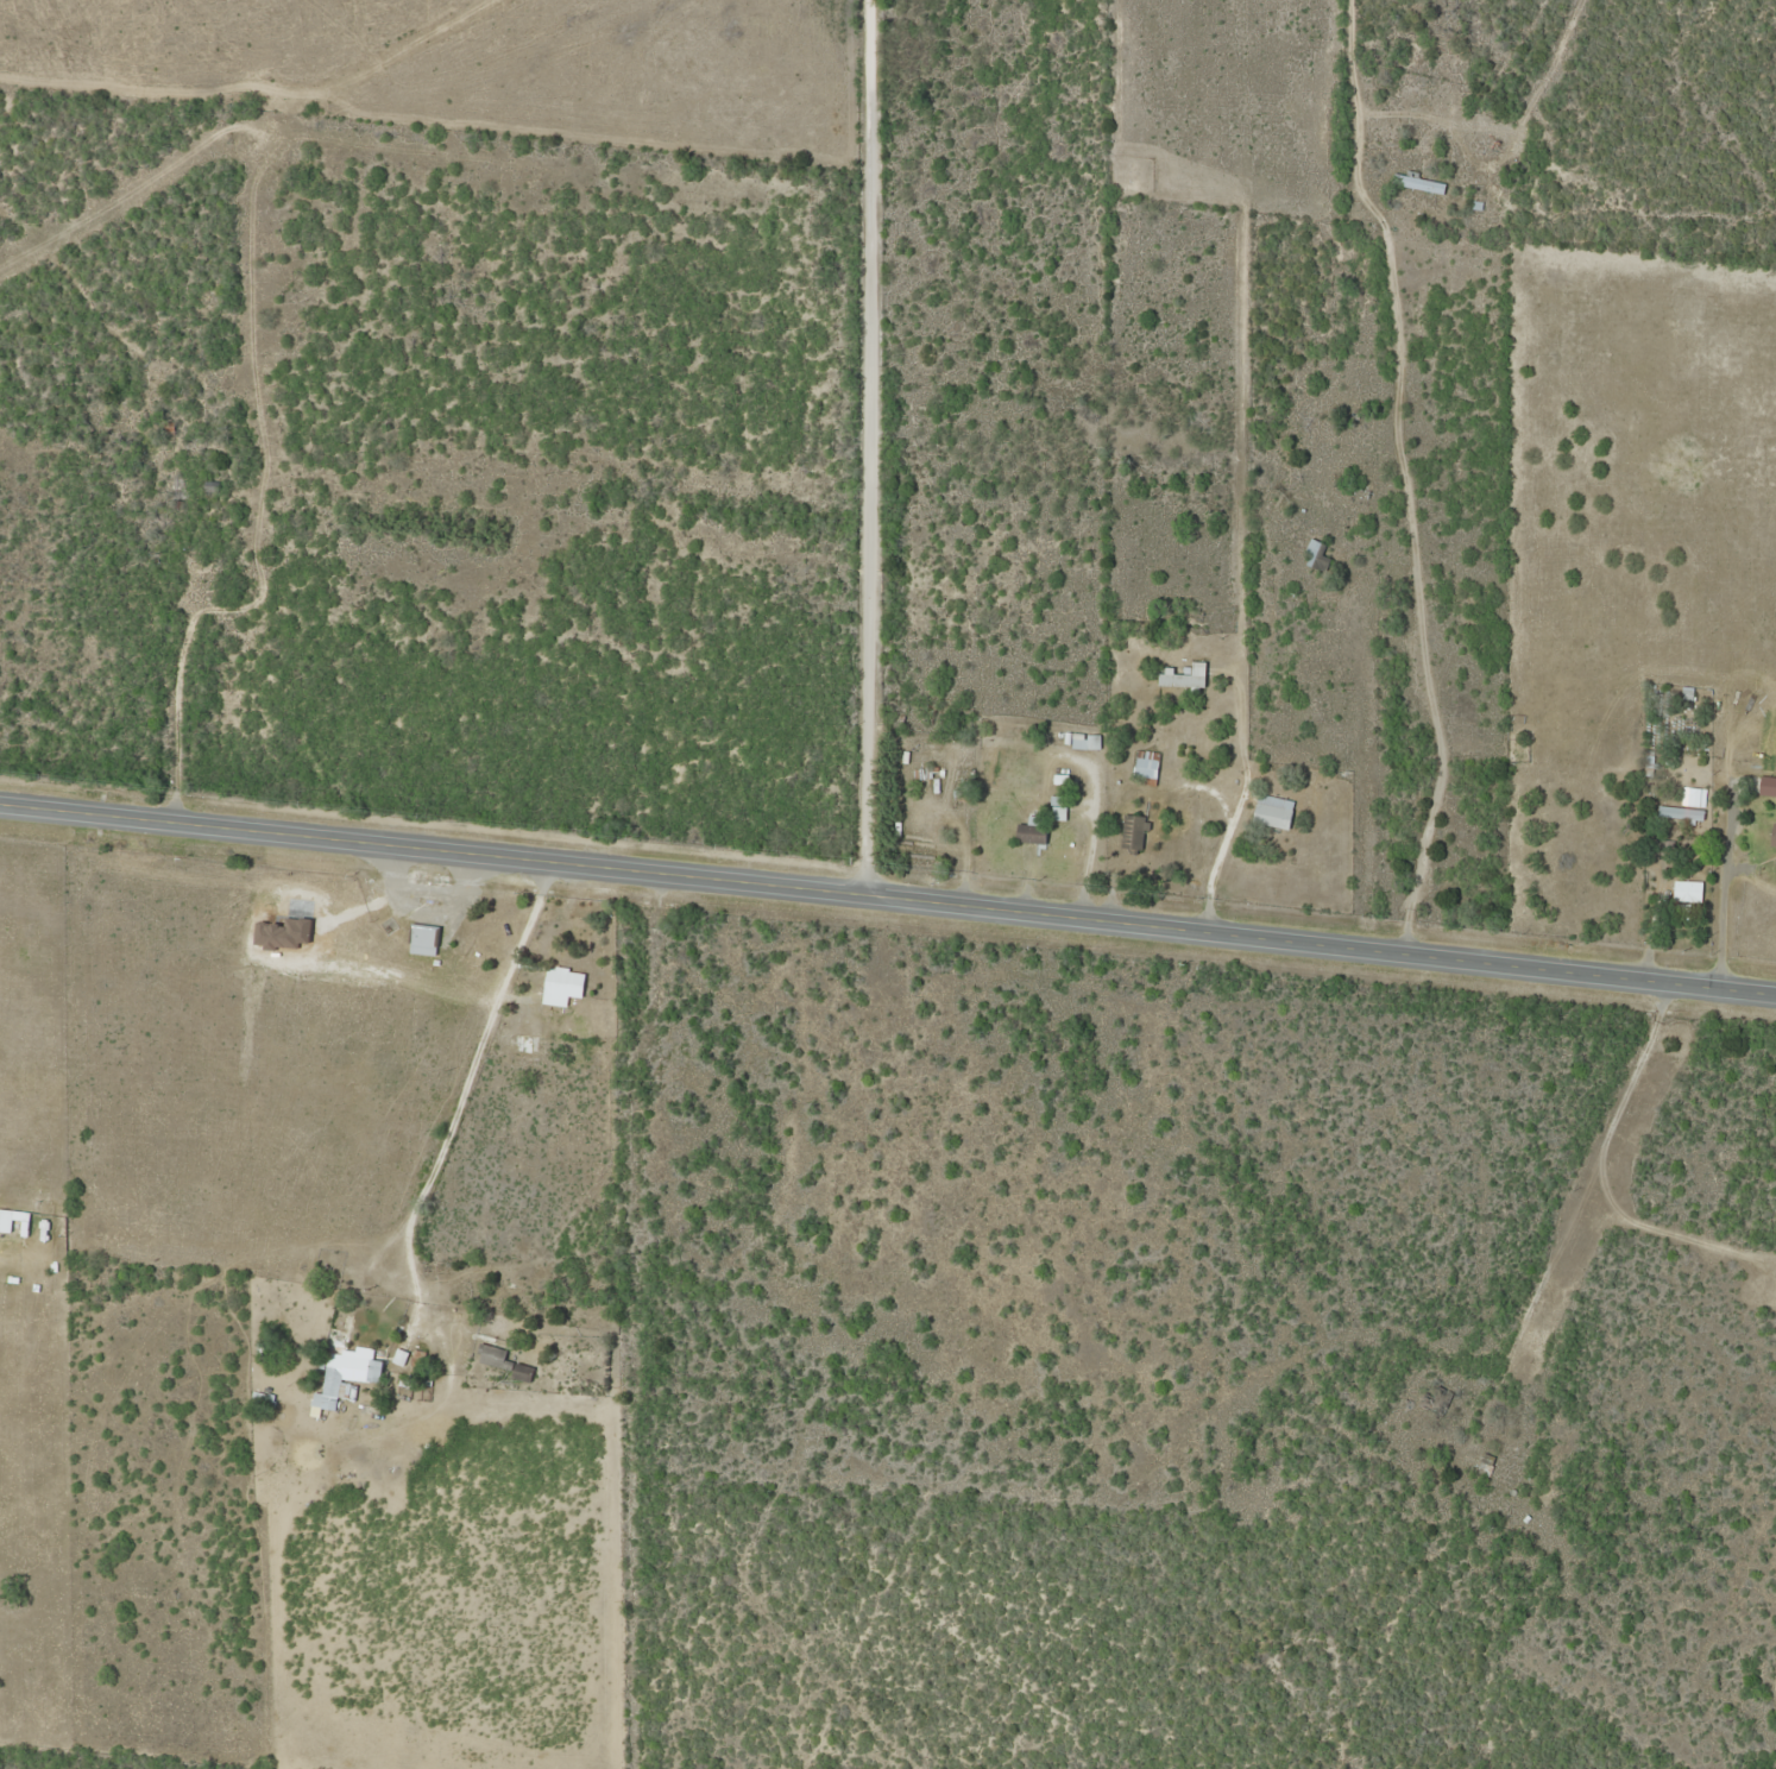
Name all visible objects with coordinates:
building: (1417, 183)
road: (856, 448)
building: (1312, 554)
building: (1183, 678)
building: (1091, 742)
building: (1145, 764)
building: (1766, 791)
building: (1272, 814)
building: (1677, 814)
building: (1029, 833)
building: (1132, 833)
building: (1658, 848)
building: (1686, 892)
road: (888, 899)
building: (422, 942)
building: (560, 987)
building: (515, 1047)
road: (459, 1053)
road: (1572, 1192)
building: (17, 1209)
road: (631, 1323)
building: (502, 1364)
building: (346, 1374)

